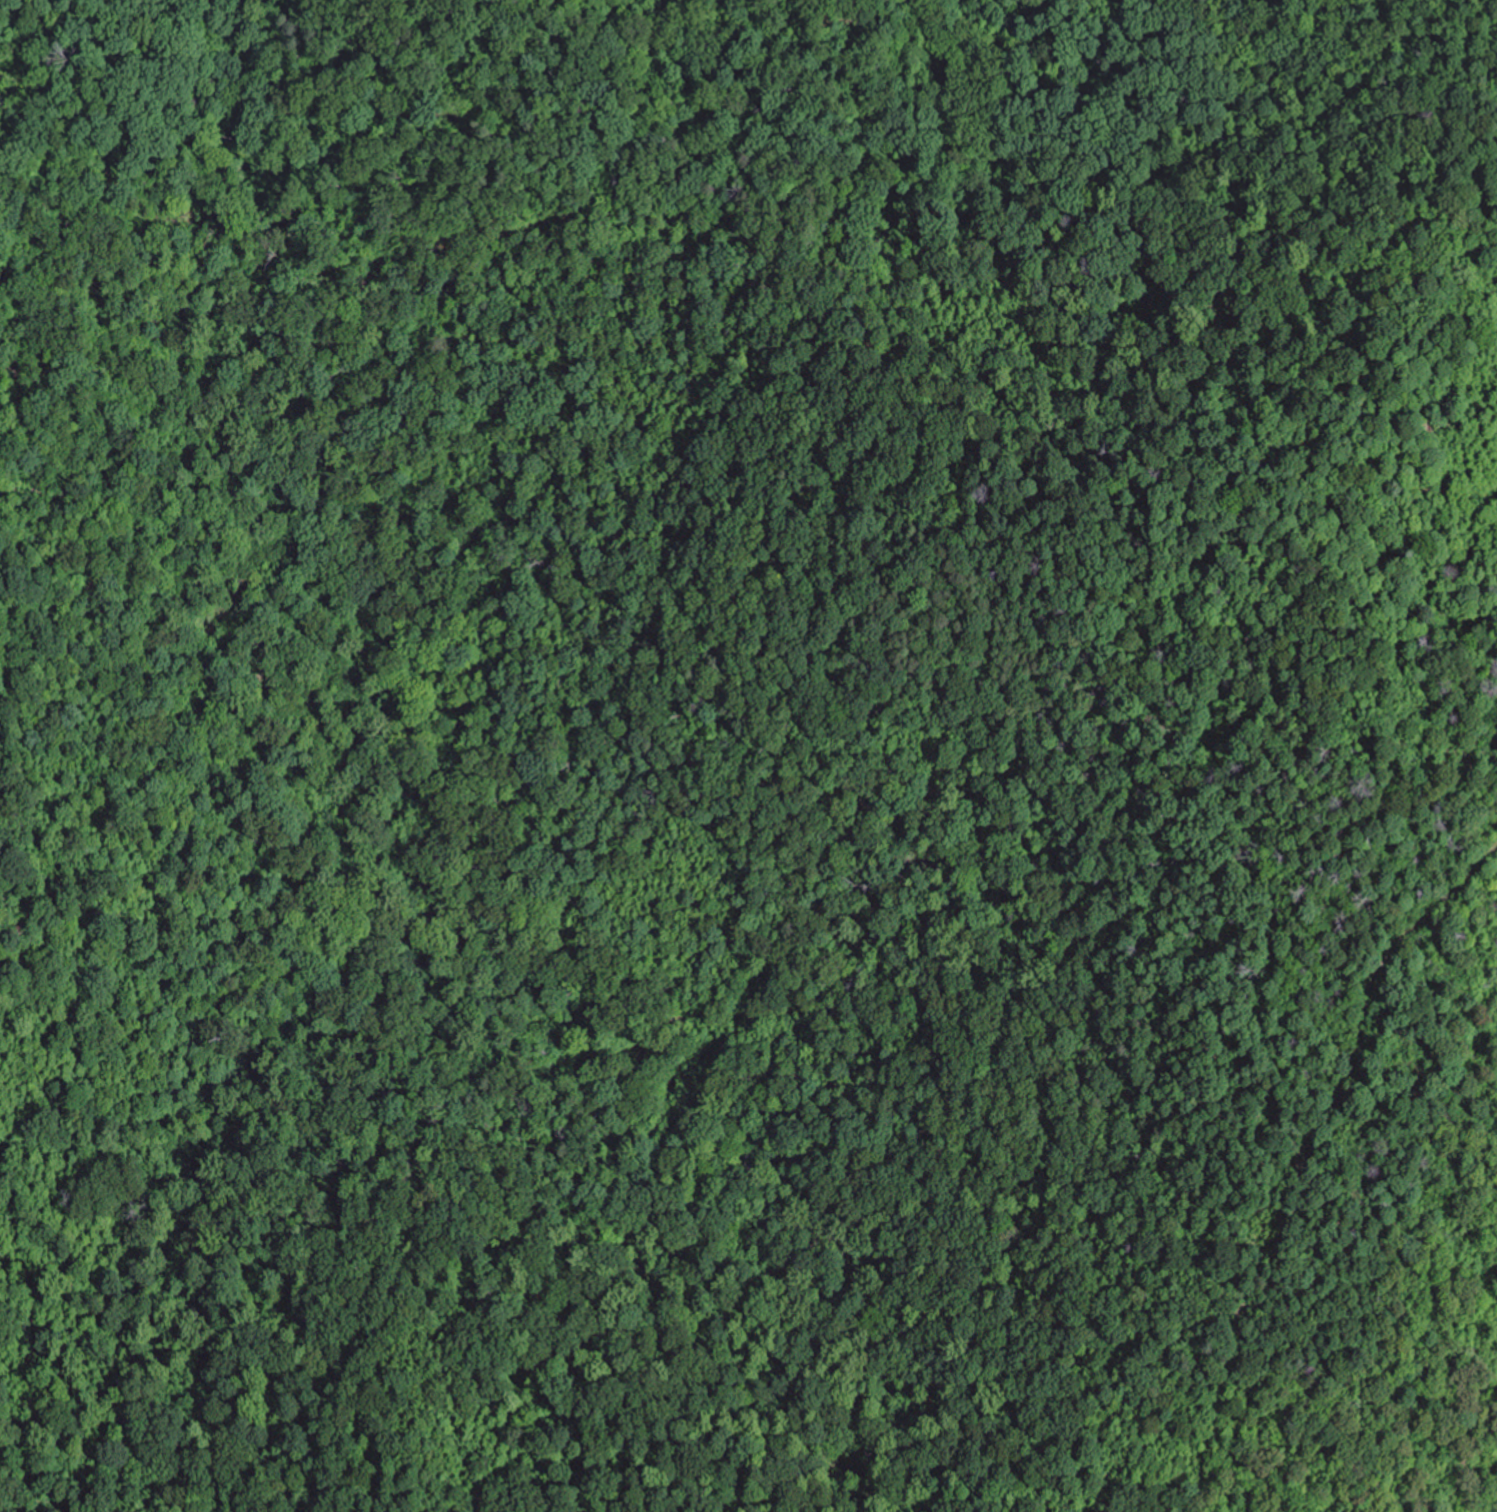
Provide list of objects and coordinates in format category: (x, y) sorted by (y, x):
road: (1301, 1209)
road: (44, 1502)

